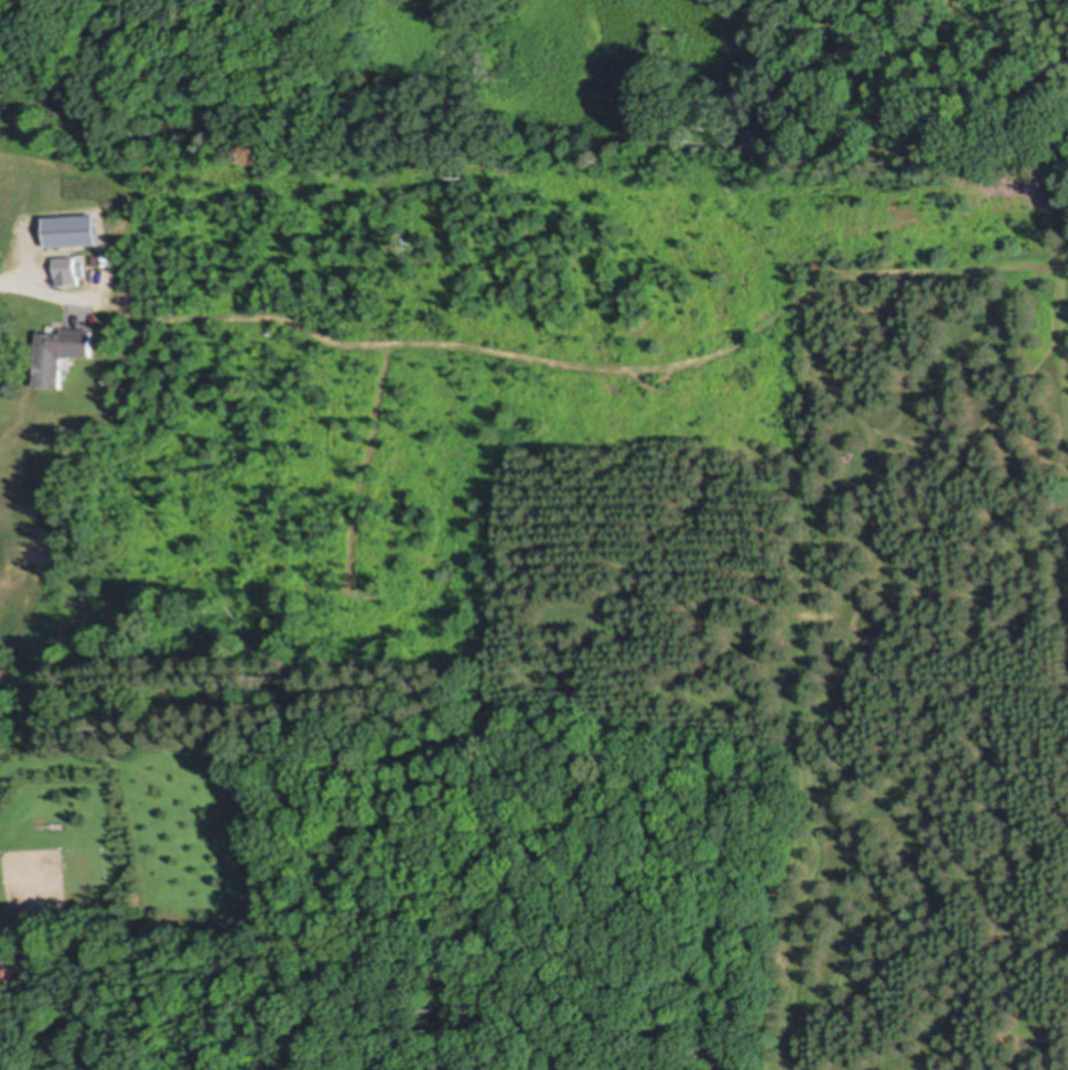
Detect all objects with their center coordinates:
building: (104, 257)
building: (69, 270)
road: (11, 279)
building: (127, 298)
building: (58, 352)
building: (3, 973)

